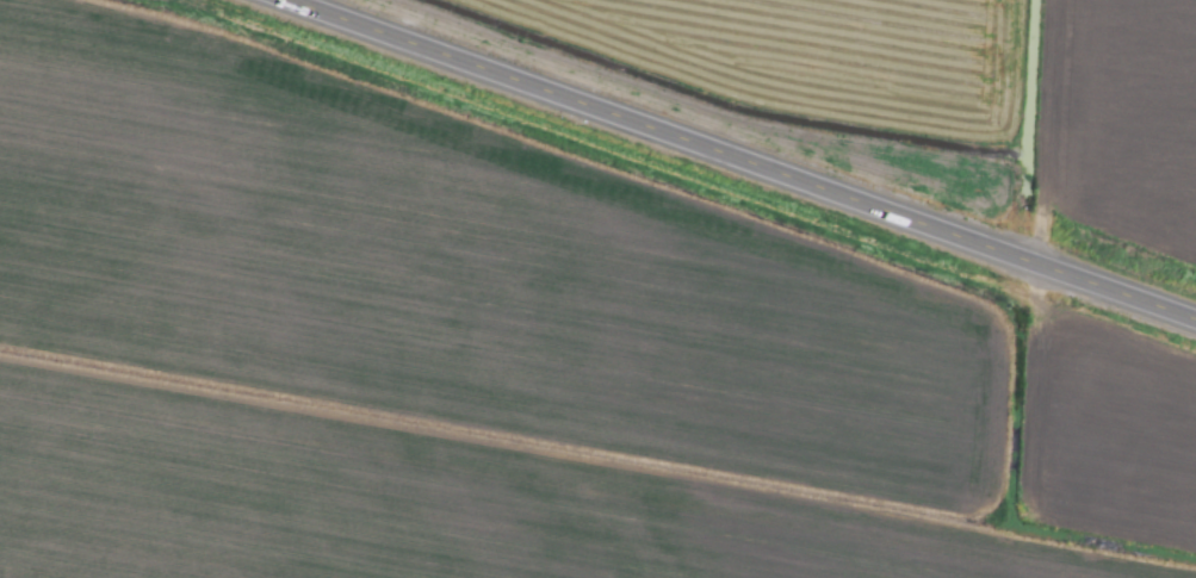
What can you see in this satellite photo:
road: (739, 160)
crop: (597, 288)

